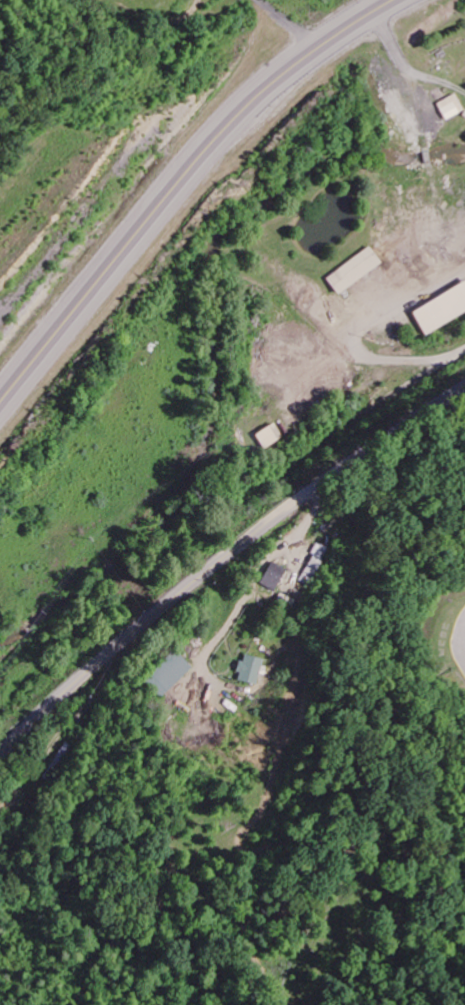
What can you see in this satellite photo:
building: (449, 108)
road: (178, 188)
building: (353, 272)
building: (442, 311)
building: (271, 437)
road: (224, 558)
building: (273, 577)
building: (250, 671)
building: (167, 674)

